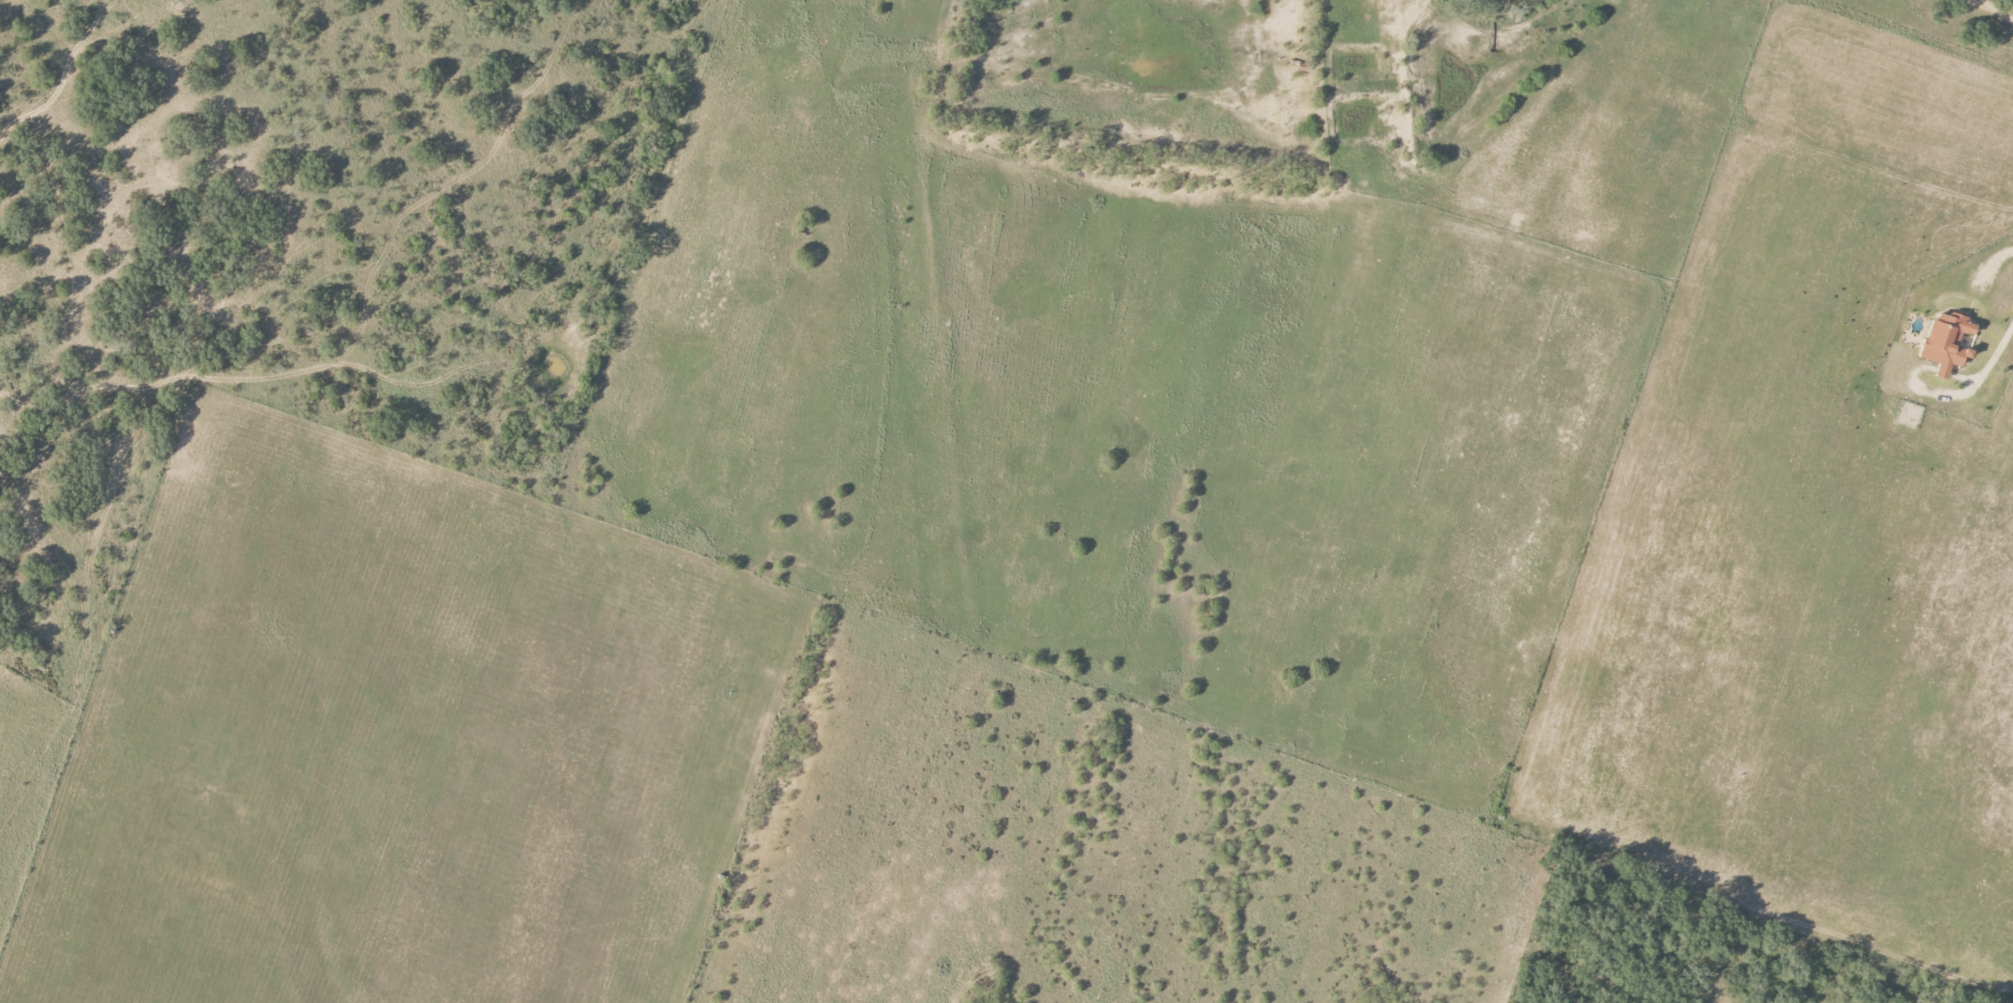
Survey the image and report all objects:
road: (1992, 6)
road: (1971, 7)
building: (1947, 342)
road: (1997, 354)

